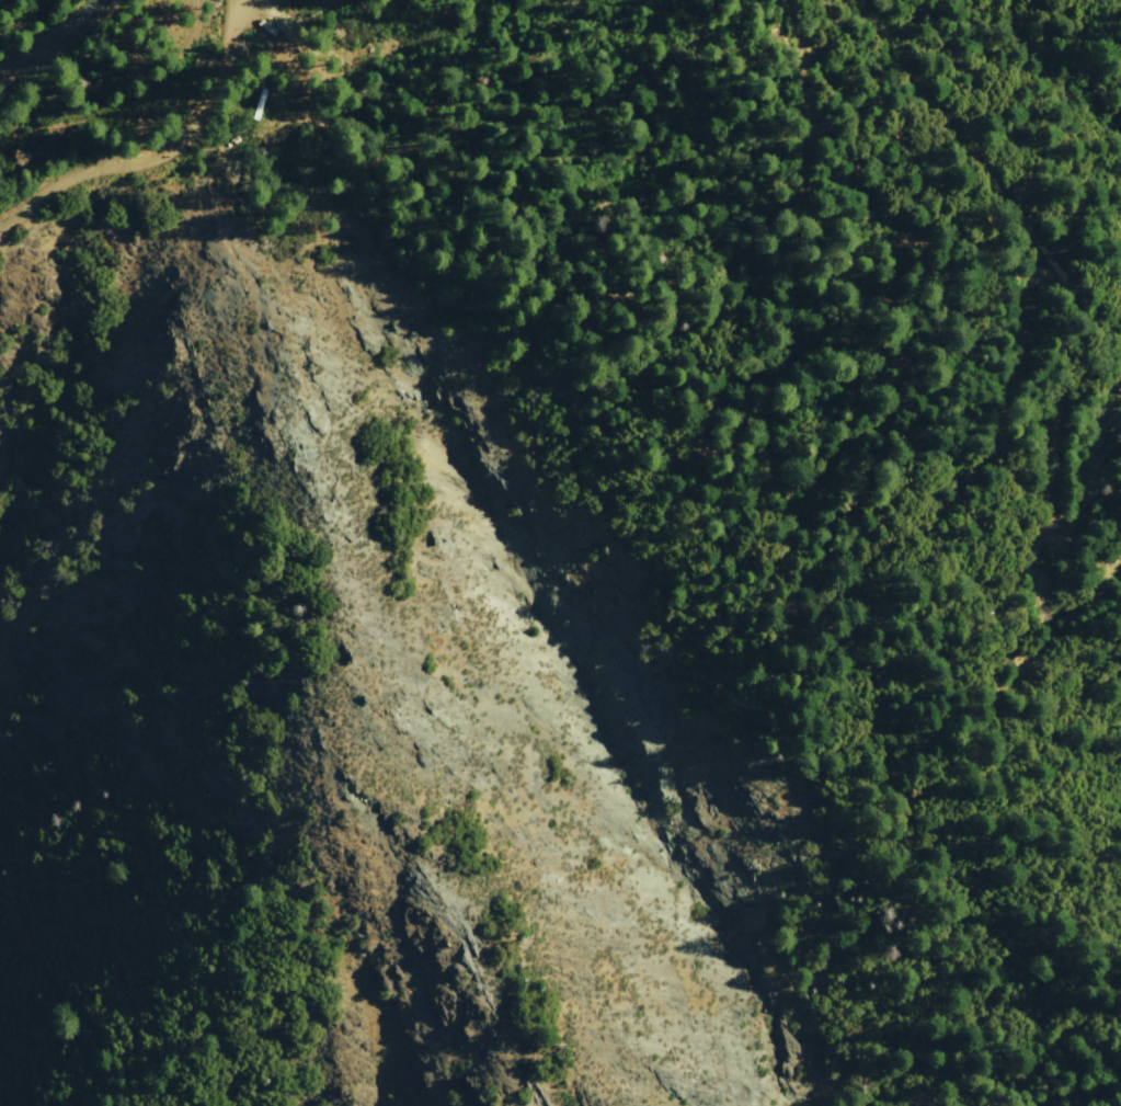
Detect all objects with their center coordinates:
road: (57, 44)
road: (159, 152)

